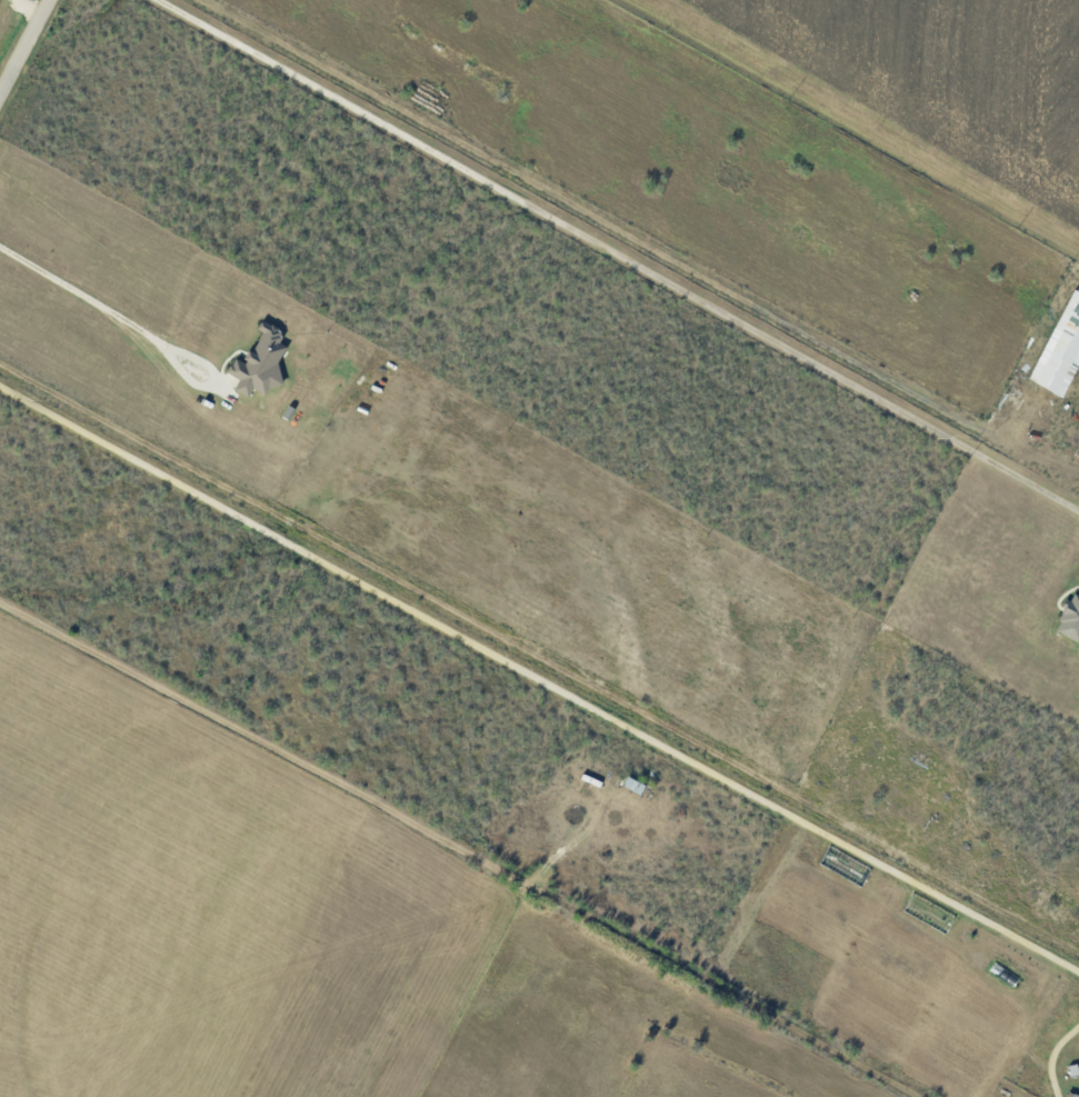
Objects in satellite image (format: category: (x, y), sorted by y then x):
road: (26, 49)
road: (608, 261)
road: (83, 307)
building: (1062, 355)
building: (262, 360)
road: (213, 396)
building: (1071, 618)
road: (539, 670)
road: (464, 838)
road: (1058, 1058)
building: (1072, 1094)

